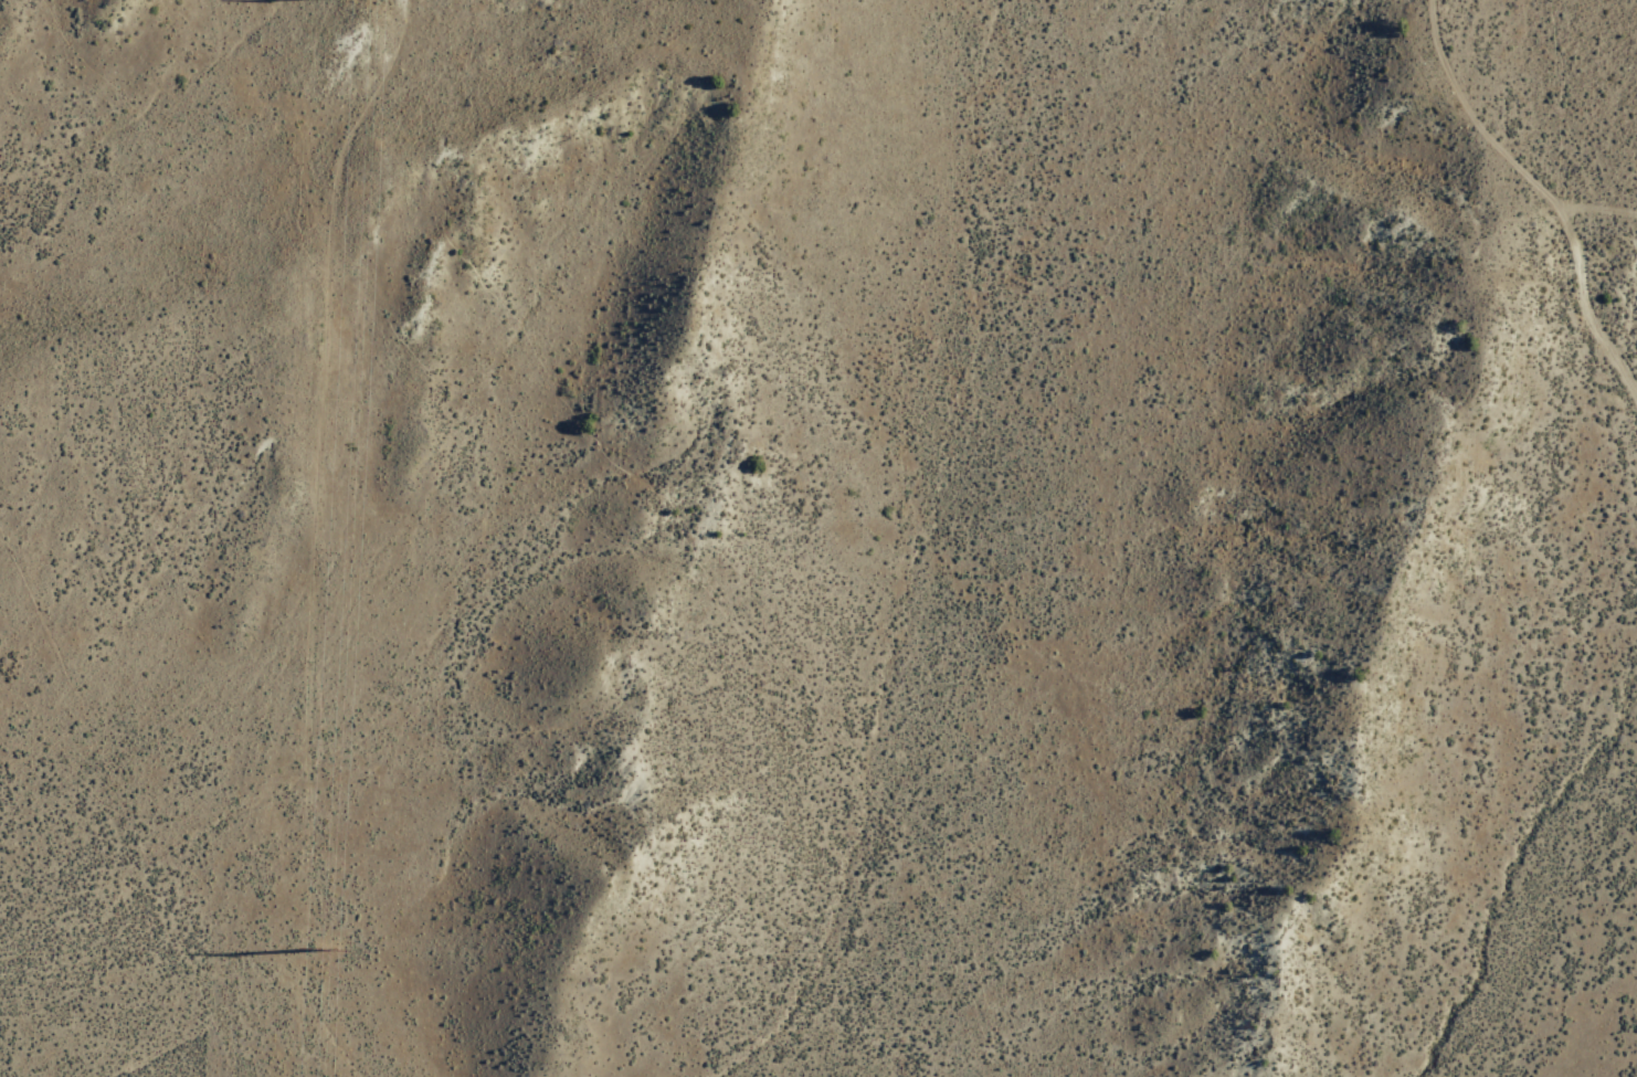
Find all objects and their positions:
road: (1544, 191)
road: (315, 531)
power tower: (331, 957)

